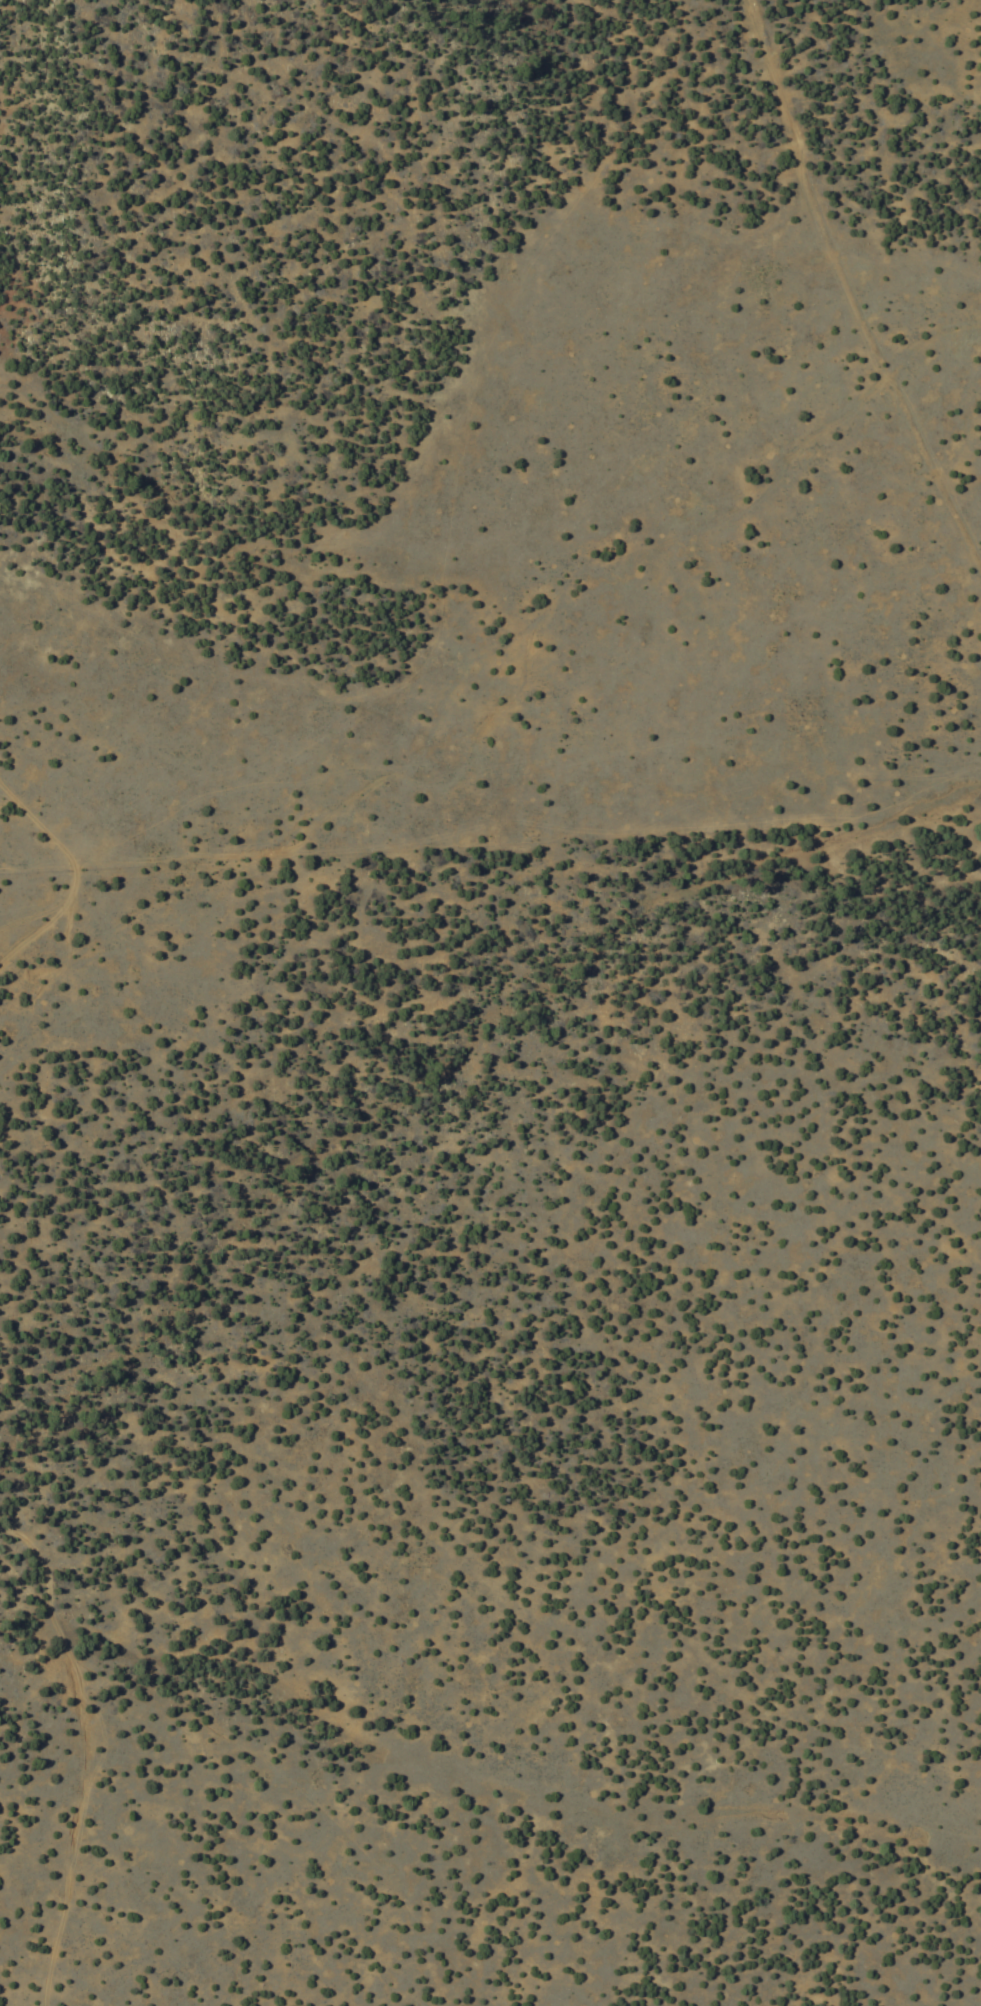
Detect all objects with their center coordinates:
road: (503, 683)

